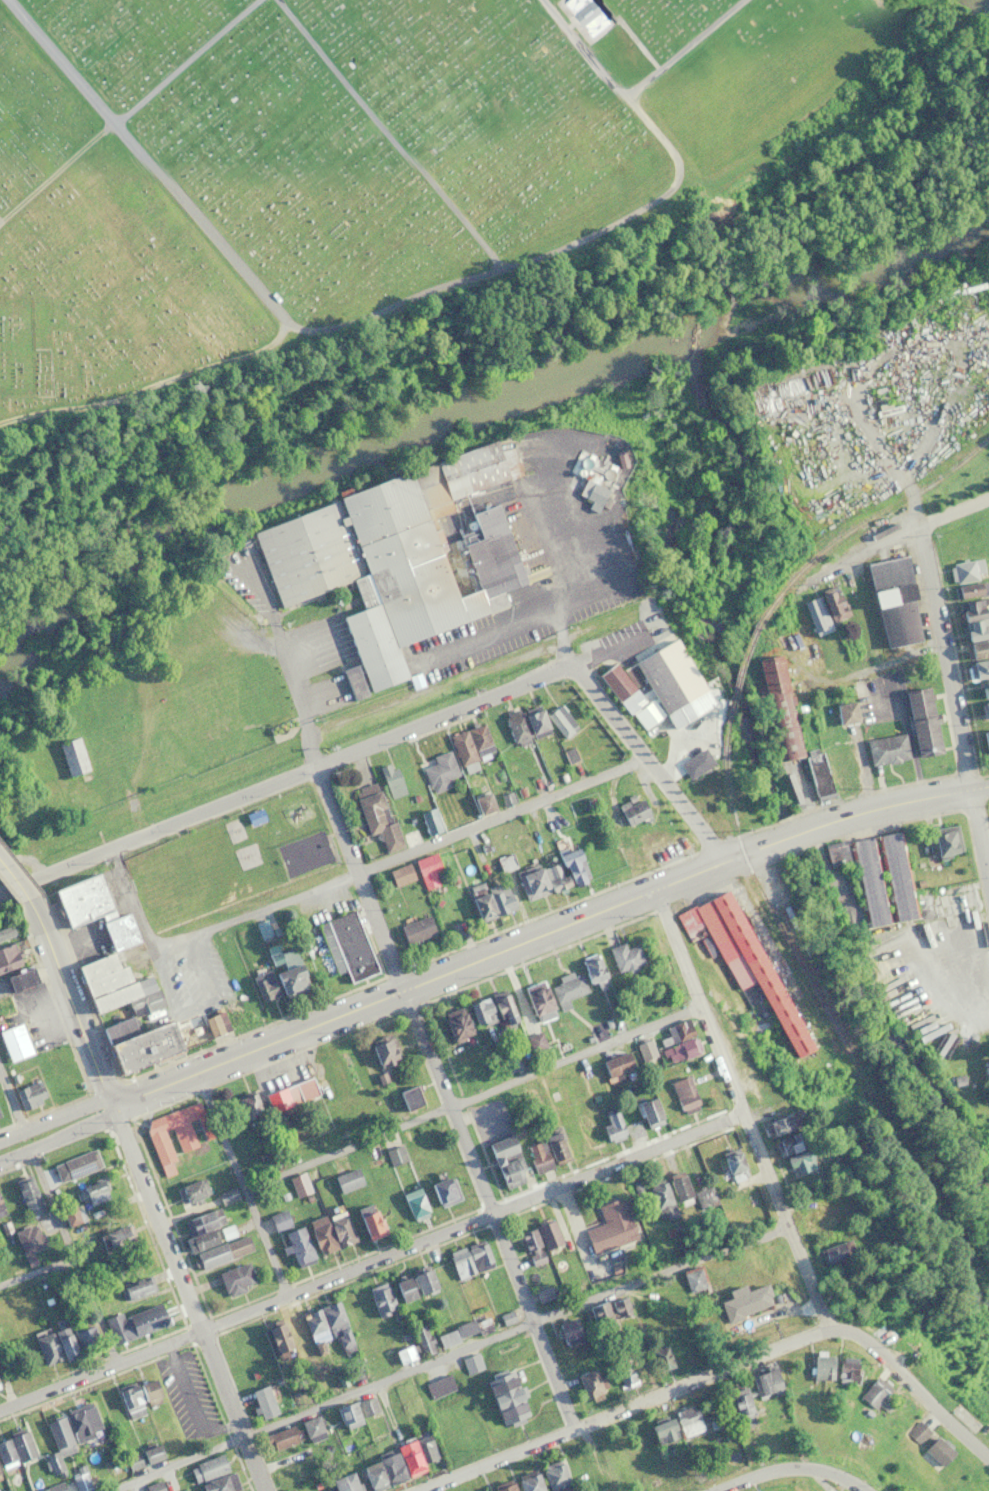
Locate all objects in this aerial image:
building: (588, 16)
road: (680, 46)
road: (127, 107)
park: (347, 156)
road: (221, 245)
road: (535, 256)
road: (151, 386)
road: (855, 387)
river: (476, 406)
building: (590, 490)
railway: (865, 519)
road: (899, 534)
building: (396, 557)
building: (965, 570)
building: (966, 590)
building: (893, 602)
building: (825, 610)
building: (973, 629)
building: (849, 647)
road: (284, 655)
building: (978, 670)
building: (353, 682)
road: (955, 686)
railway: (733, 687)
building: (984, 688)
building: (644, 689)
building: (778, 702)
building: (985, 710)
building: (845, 712)
building: (560, 720)
building: (922, 721)
building: (525, 724)
building: (985, 741)
building: (471, 746)
building: (885, 748)
building: (71, 756)
road: (650, 762)
road: (306, 769)
building: (439, 771)
building: (700, 775)
building: (390, 779)
road: (924, 795)
building: (482, 804)
building: (632, 813)
building: (375, 814)
road: (502, 814)
building: (253, 815)
building: (429, 822)
building: (942, 841)
park: (304, 851)
park: (234, 858)
building: (426, 866)
building: (400, 874)
building: (550, 875)
building: (894, 877)
road: (17, 880)
building: (867, 882)
road: (19, 884)
road: (2, 891)
building: (490, 902)
building: (956, 903)
road: (216, 905)
road: (203, 929)
building: (415, 930)
building: (6, 932)
building: (346, 947)
road: (488, 957)
building: (7, 958)
building: (625, 958)
building: (741, 965)
building: (591, 968)
building: (289, 976)
building: (24, 978)
building: (263, 985)
building: (58, 988)
building: (567, 990)
building: (536, 999)
building: (246, 1000)
road: (700, 1001)
road: (74, 1002)
parking lot: (45, 1007)
building: (503, 1009)
building: (480, 1012)
railway: (829, 1018)
building: (214, 1025)
building: (454, 1025)
building: (678, 1041)
building: (14, 1043)
building: (142, 1049)
building: (646, 1052)
building: (383, 1053)
building: (616, 1065)
building: (985, 1070)
building: (471, 1075)
building: (300, 1091)
road: (12, 1093)
building: (28, 1094)
road: (476, 1094)
building: (684, 1094)
road: (450, 1095)
building: (409, 1098)
building: (247, 1105)
building: (647, 1111)
road: (56, 1115)
building: (491, 1119)
building: (776, 1125)
building: (612, 1126)
building: (175, 1132)
road: (60, 1137)
building: (395, 1154)
building: (792, 1154)
building: (505, 1160)
building: (74, 1165)
building: (733, 1166)
road: (248, 1179)
building: (347, 1179)
building: (299, 1184)
building: (679, 1188)
building: (92, 1190)
building: (190, 1190)
building: (443, 1190)
building: (28, 1195)
building: (703, 1196)
building: (661, 1200)
building: (413, 1201)
building: (1, 1209)
building: (68, 1213)
building: (821, 1216)
road: (790, 1218)
building: (609, 1226)
building: (199, 1230)
building: (330, 1231)
building: (547, 1232)
building: (28, 1238)
building: (114, 1239)
building: (297, 1245)
building: (530, 1245)
building: (222, 1251)
road: (80, 1252)
building: (832, 1253)
road: (371, 1256)
building: (469, 1258)
road: (183, 1270)
building: (235, 1278)
building: (422, 1279)
building: (694, 1279)
building: (136, 1286)
building: (403, 1288)
building: (380, 1298)
building: (745, 1300)
building: (609, 1310)
building: (132, 1321)
building: (328, 1324)
road: (519, 1328)
building: (462, 1330)
building: (285, 1333)
building: (84, 1334)
building: (421, 1335)
building: (54, 1345)
building: (405, 1353)
building: (661, 1357)
building: (471, 1363)
building: (820, 1367)
building: (845, 1369)
building: (625, 1372)
road: (719, 1372)
building: (765, 1381)
building: (588, 1382)
building: (438, 1386)
building: (148, 1392)
building: (871, 1394)
parking lot: (187, 1395)
road: (187, 1396)
building: (506, 1399)
building: (130, 1402)
building: (262, 1402)
building: (369, 1405)
building: (741, 1407)
building: (348, 1414)
building: (688, 1421)
building: (82, 1422)
building: (313, 1428)
building: (662, 1430)
building: (917, 1432)
building: (281, 1438)
building: (57, 1443)
building: (15, 1448)
building: (936, 1452)
building: (142, 1456)
road: (183, 1462)
building: (397, 1463)
road: (258, 1464)
building: (207, 1468)
road: (788, 1470)
building: (555, 1475)
building: (529, 1481)
building: (342, 1483)
building: (219, 1484)
building: (503, 1485)
building: (52, 1488)
building: (304, 1490)
building: (482, 1490)

